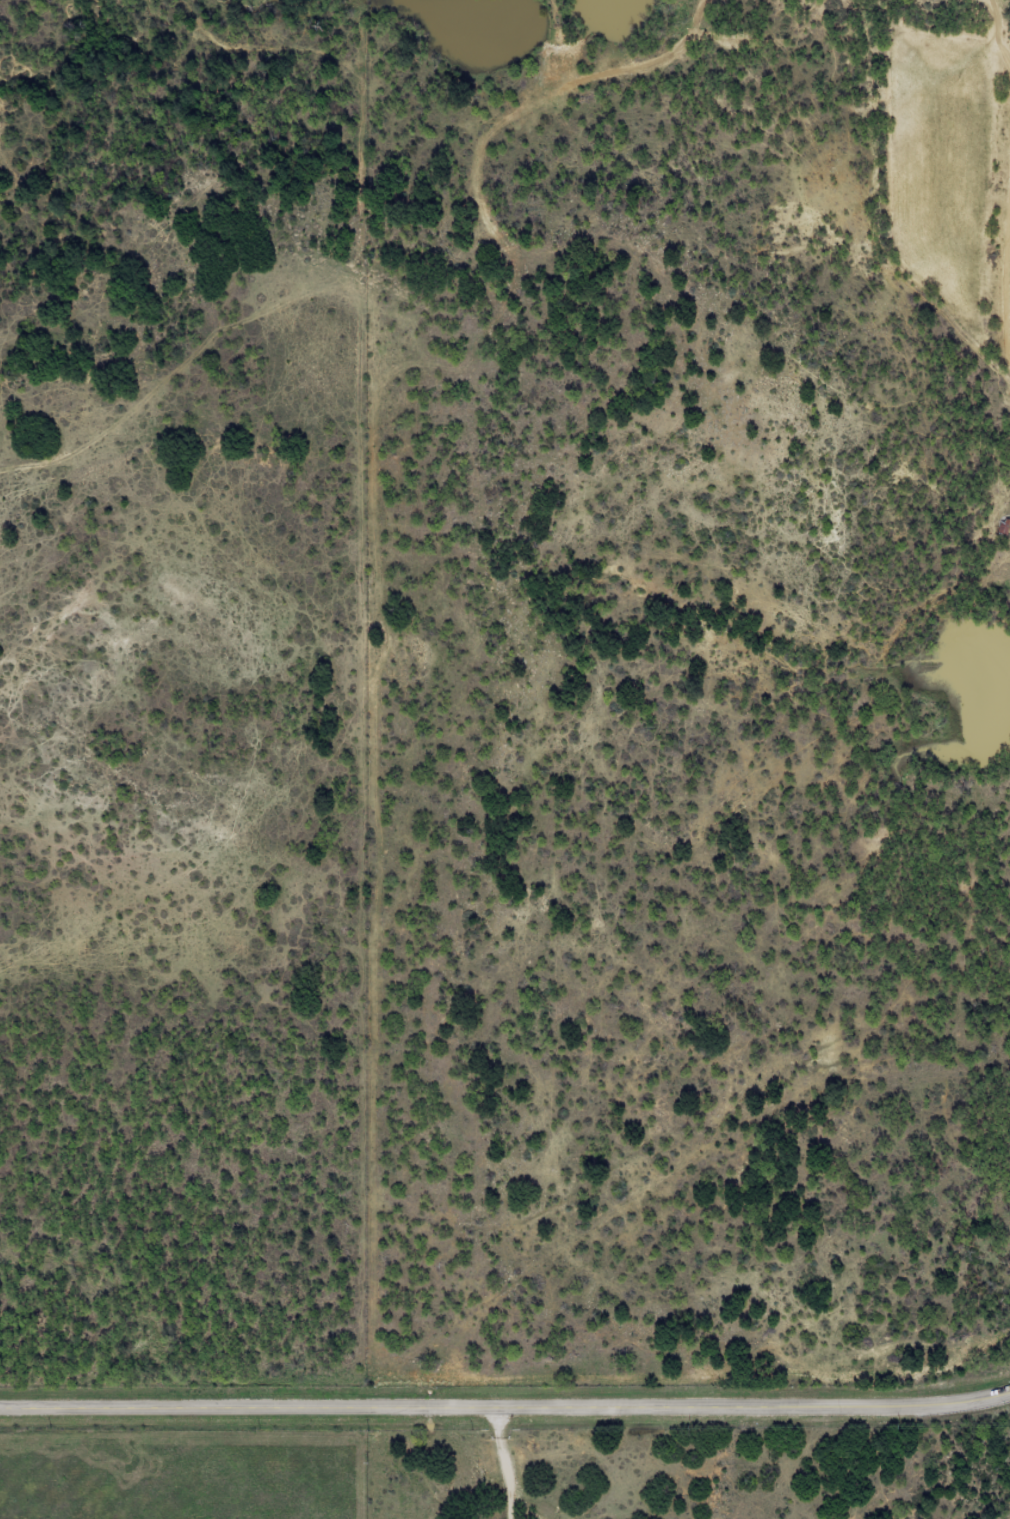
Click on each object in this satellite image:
road: (505, 1406)

